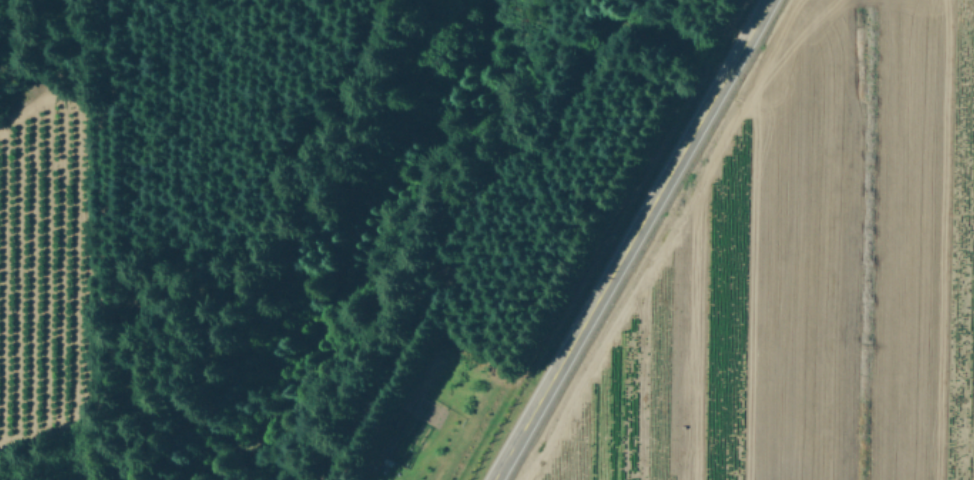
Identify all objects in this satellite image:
road: (629, 240)
crop: (33, 265)
crop: (799, 272)

